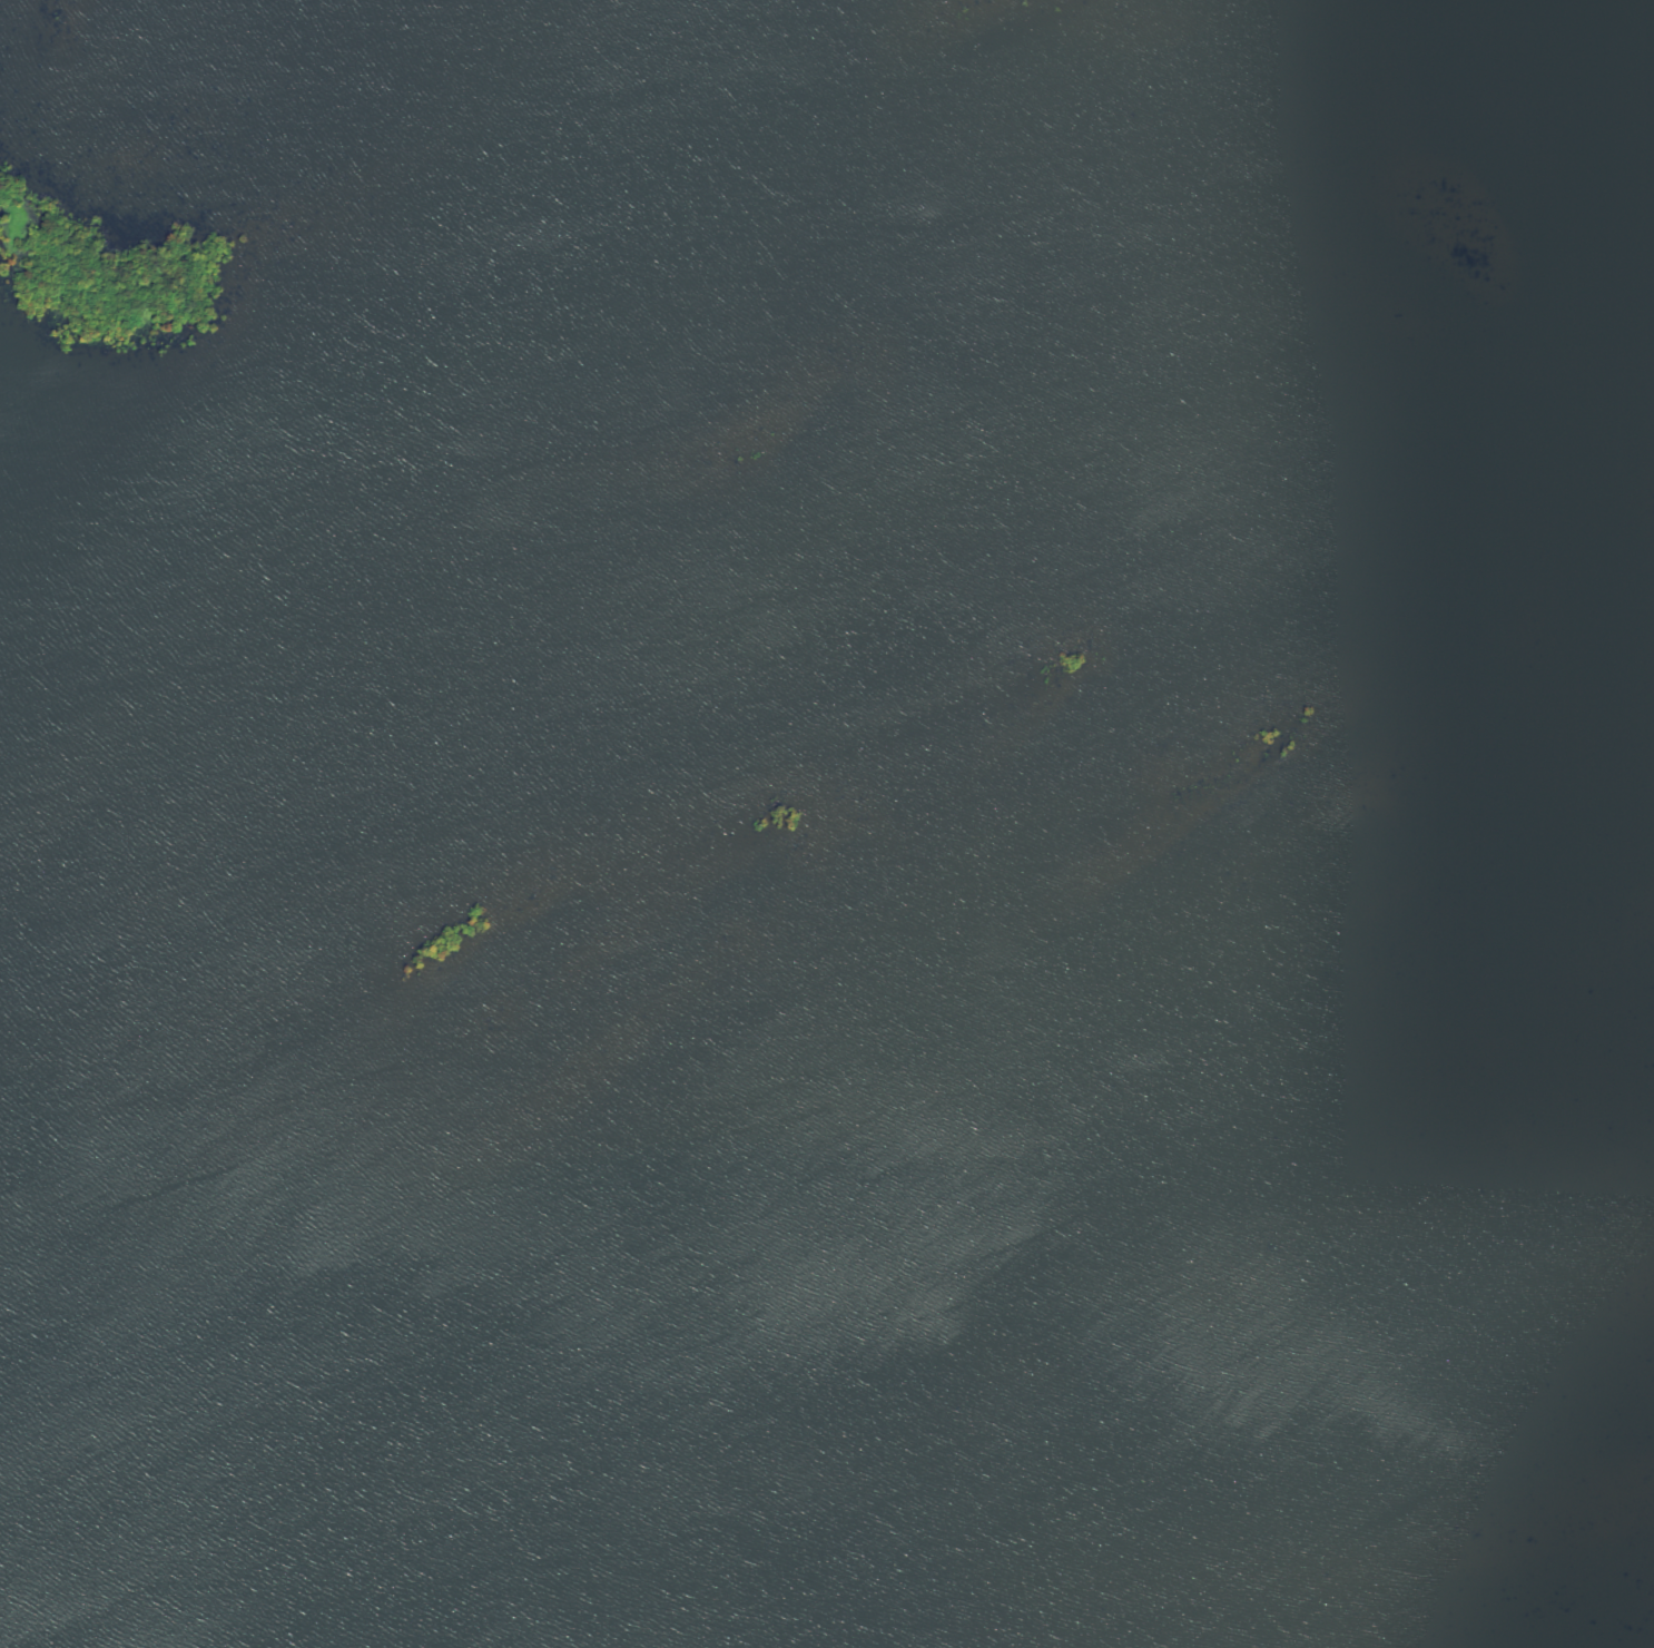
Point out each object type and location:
river: (303, 1432)

